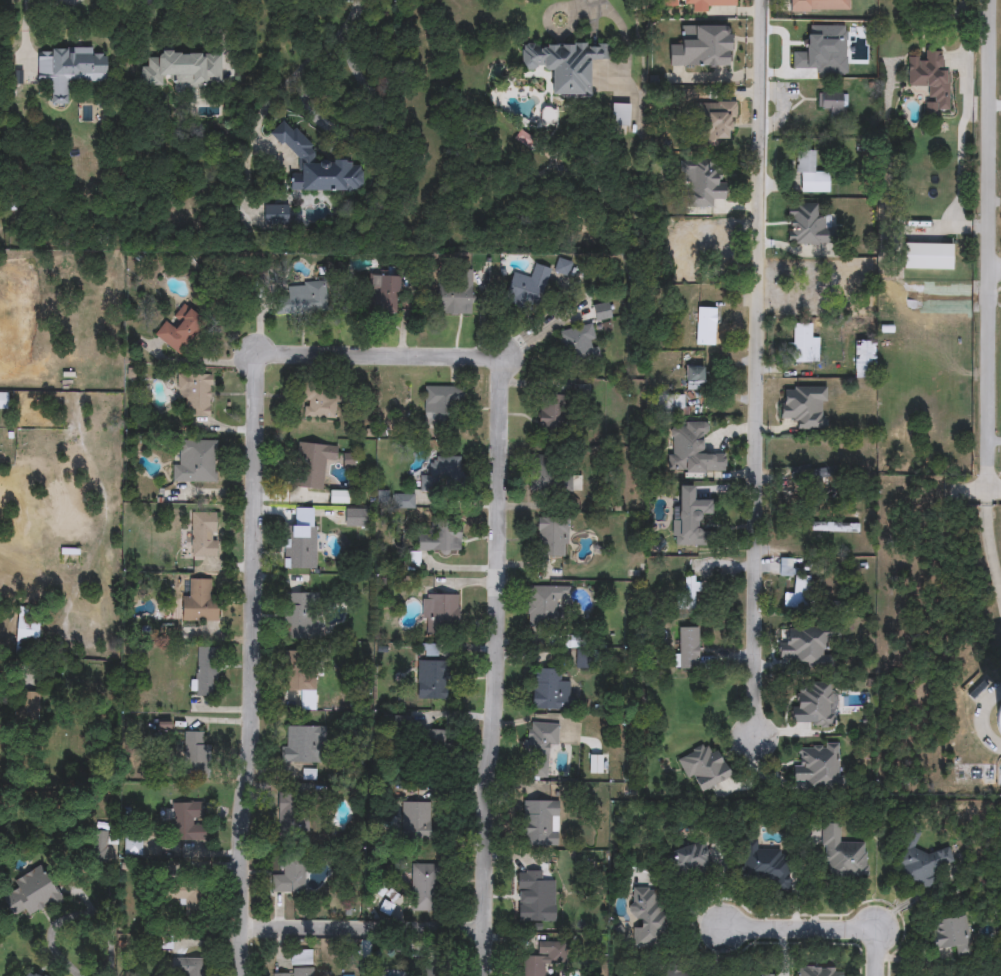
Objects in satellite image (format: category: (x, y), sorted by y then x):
road: (50, 3)
building: (707, 4)
building: (819, 5)
road: (578, 12)
road: (355, 19)
road: (226, 22)
road: (25, 32)
building: (830, 49)
building: (564, 64)
building: (183, 69)
building: (69, 70)
building: (930, 78)
building: (833, 103)
building: (620, 114)
building: (548, 116)
building: (718, 121)
road: (345, 136)
building: (316, 165)
building: (810, 174)
building: (709, 187)
building: (275, 214)
building: (809, 226)
road: (993, 231)
building: (927, 256)
building: (562, 267)
building: (527, 286)
building: (382, 292)
building: (455, 292)
building: (308, 295)
building: (601, 311)
building: (705, 326)
building: (179, 328)
building: (578, 343)
building: (803, 345)
road: (377, 354)
building: (865, 359)
road: (757, 369)
building: (695, 378)
building: (197, 394)
building: (439, 403)
building: (319, 404)
building: (673, 406)
building: (804, 407)
building: (550, 412)
building: (691, 450)
building: (196, 463)
building: (312, 464)
building: (444, 472)
building: (814, 476)
building: (550, 478)
road: (982, 484)
building: (339, 497)
building: (405, 501)
building: (357, 518)
building: (690, 518)
building: (203, 536)
building: (552, 537)
building: (438, 539)
building: (301, 547)
road: (990, 558)
building: (795, 587)
building: (691, 592)
building: (199, 602)
building: (544, 604)
building: (439, 609)
building: (301, 616)
building: (27, 632)
building: (807, 646)
building: (687, 648)
road: (251, 671)
road: (497, 671)
building: (205, 675)
building: (300, 677)
building: (432, 680)
building: (549, 690)
building: (813, 705)
building: (26, 707)
building: (993, 720)
building: (301, 743)
building: (431, 743)
building: (539, 747)
building: (194, 752)
building: (818, 766)
building: (703, 767)
building: (292, 818)
building: (187, 820)
building: (416, 822)
building: (539, 824)
building: (133, 845)
building: (690, 855)
building: (842, 855)
building: (919, 858)
building: (765, 865)
building: (289, 877)
building: (423, 887)
building: (31, 893)
building: (535, 897)
building: (192, 904)
road: (74, 918)
building: (645, 918)
road: (365, 921)
road: (801, 925)
building: (951, 934)
building: (163, 944)
road: (882, 952)
building: (301, 957)
building: (543, 959)
building: (188, 967)
building: (819, 971)
building: (298, 972)
building: (434, 972)
building: (672, 972)
building: (30, 974)
building: (765, 975)

